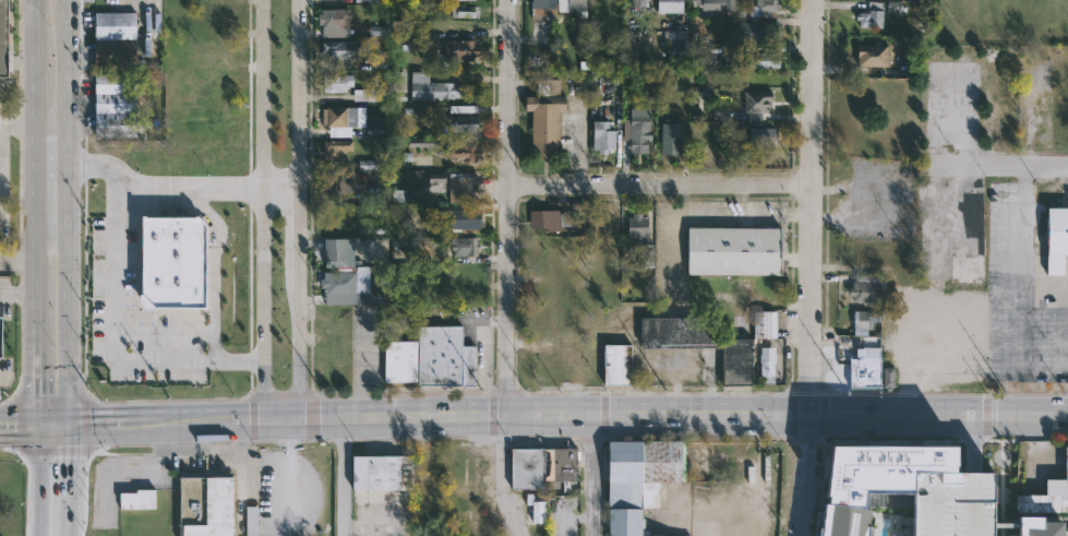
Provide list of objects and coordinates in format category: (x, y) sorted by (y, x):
building: (463, 0)
building: (639, 2)
building: (711, 4)
building: (667, 5)
building: (550, 8)
building: (760, 8)
building: (464, 11)
building: (871, 16)
building: (333, 17)
park: (1003, 22)
building: (113, 24)
building: (374, 29)
building: (756, 31)
building: (5, 38)
building: (676, 39)
building: (457, 49)
building: (335, 50)
building: (111, 53)
building: (869, 56)
building: (760, 60)
building: (397, 78)
building: (334, 82)
building: (430, 87)
building: (369, 94)
building: (754, 102)
building: (112, 105)
building: (463, 108)
building: (542, 118)
building: (340, 119)
road: (19, 122)
road: (52, 122)
building: (459, 123)
building: (998, 123)
building: (375, 124)
building: (635, 130)
building: (600, 136)
building: (758, 136)
building: (668, 139)
building: (420, 141)
building: (335, 148)
building: (461, 150)
road: (99, 163)
building: (367, 165)
road: (995, 166)
road: (1, 170)
parking lot: (3, 177)
building: (437, 180)
road: (211, 182)
road: (661, 184)
building: (327, 186)
building: (460, 187)
building: (403, 195)
road: (265, 209)
road: (297, 209)
road: (509, 209)
road: (37, 210)
road: (69, 210)
building: (460, 218)
building: (549, 221)
building: (636, 230)
building: (1056, 240)
building: (461, 247)
road: (1013, 249)
building: (733, 251)
building: (335, 253)
building: (173, 262)
road: (811, 267)
building: (962, 267)
building: (335, 283)
building: (868, 290)
road: (19, 295)
parking lot: (4, 296)
parking lot: (139, 317)
building: (861, 321)
building: (763, 323)
building: (675, 332)
building: (0, 338)
road: (116, 341)
building: (428, 358)
building: (732, 360)
building: (614, 364)
building: (765, 364)
road: (359, 365)
building: (863, 367)
parking lot: (5, 374)
building: (888, 378)
road: (3, 381)
road: (1028, 389)
road: (667, 415)
road: (148, 418)
road: (248, 418)
road: (52, 419)
traffic signals: (67, 419)
road: (19, 420)
traffic signals: (38, 420)
road: (38, 428)
road: (196, 436)
road: (199, 453)
building: (1065, 461)
road: (65, 463)
building: (561, 463)
road: (286, 464)
building: (524, 467)
building: (380, 472)
road: (341, 476)
road: (593, 476)
building: (633, 479)
road: (38, 486)
parking lot: (296, 491)
building: (862, 491)
building: (140, 498)
building: (952, 502)
parking garage: (952, 502)
building: (1041, 502)
building: (204, 504)
building: (535, 509)
building: (251, 521)
road: (64, 522)
building: (1037, 527)

